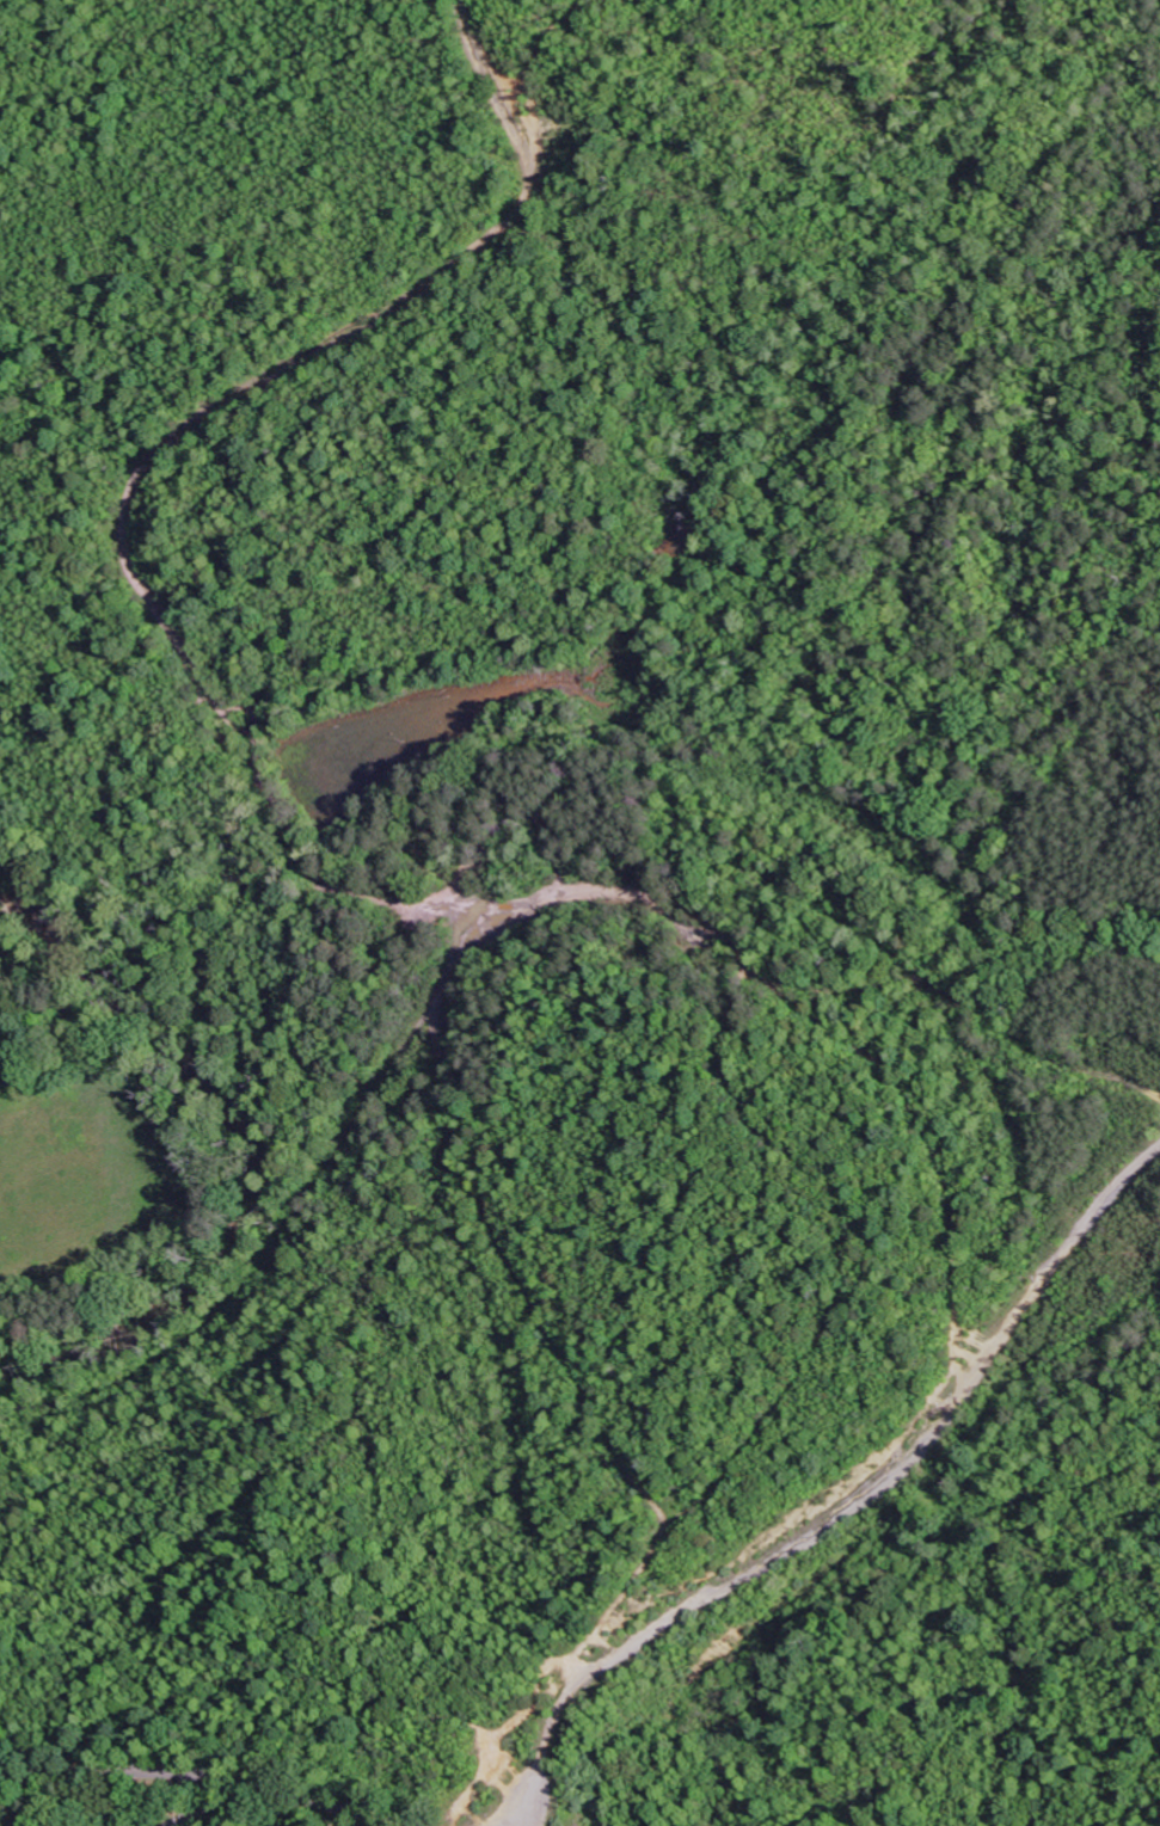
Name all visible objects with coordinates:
river: (227, 1130)
road: (203, 1789)
road: (198, 1809)

